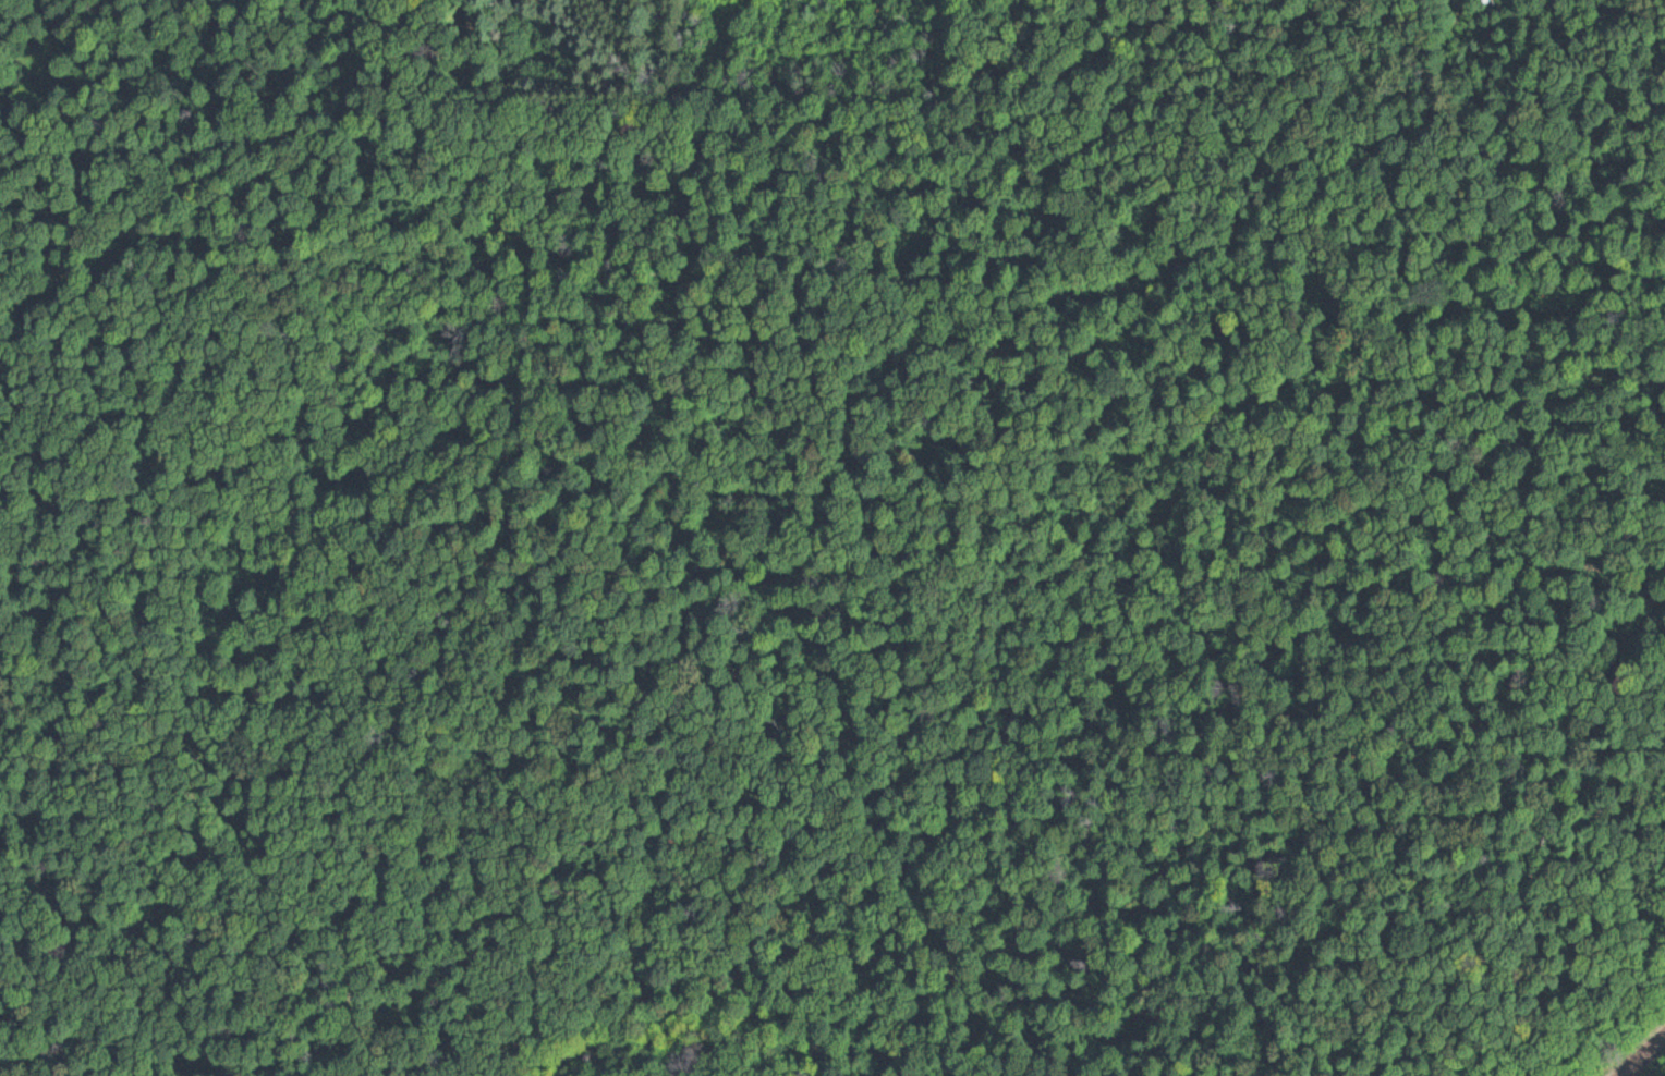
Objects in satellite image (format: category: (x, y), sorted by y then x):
road: (1640, 1052)

